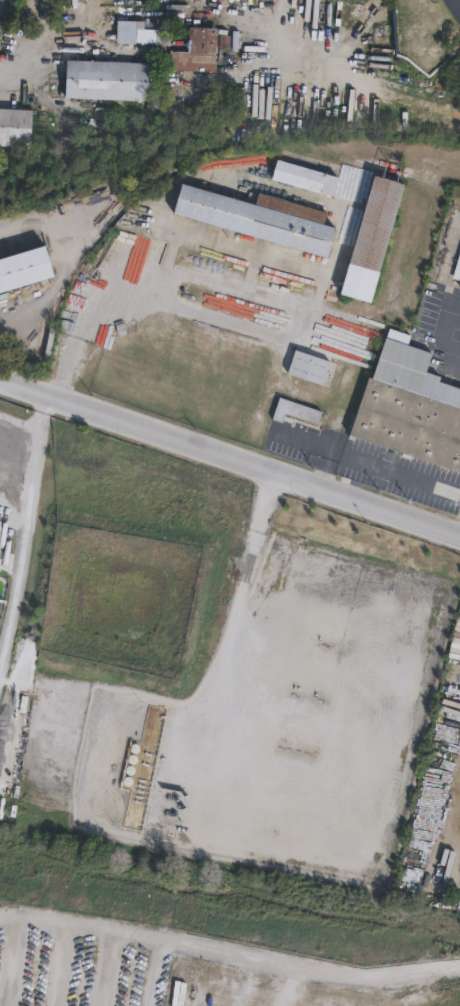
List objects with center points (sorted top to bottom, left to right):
building: (183, 49)
building: (103, 83)
building: (13, 130)
building: (302, 182)
building: (262, 218)
building: (374, 238)
building: (457, 268)
building: (23, 271)
road: (443, 332)
building: (311, 367)
building: (409, 407)
building: (297, 411)
road: (230, 452)
road: (403, 475)
road: (230, 650)
road: (12, 927)
road: (242, 956)
road: (17, 966)
road: (66, 969)
road: (110, 972)
road: (158, 976)

